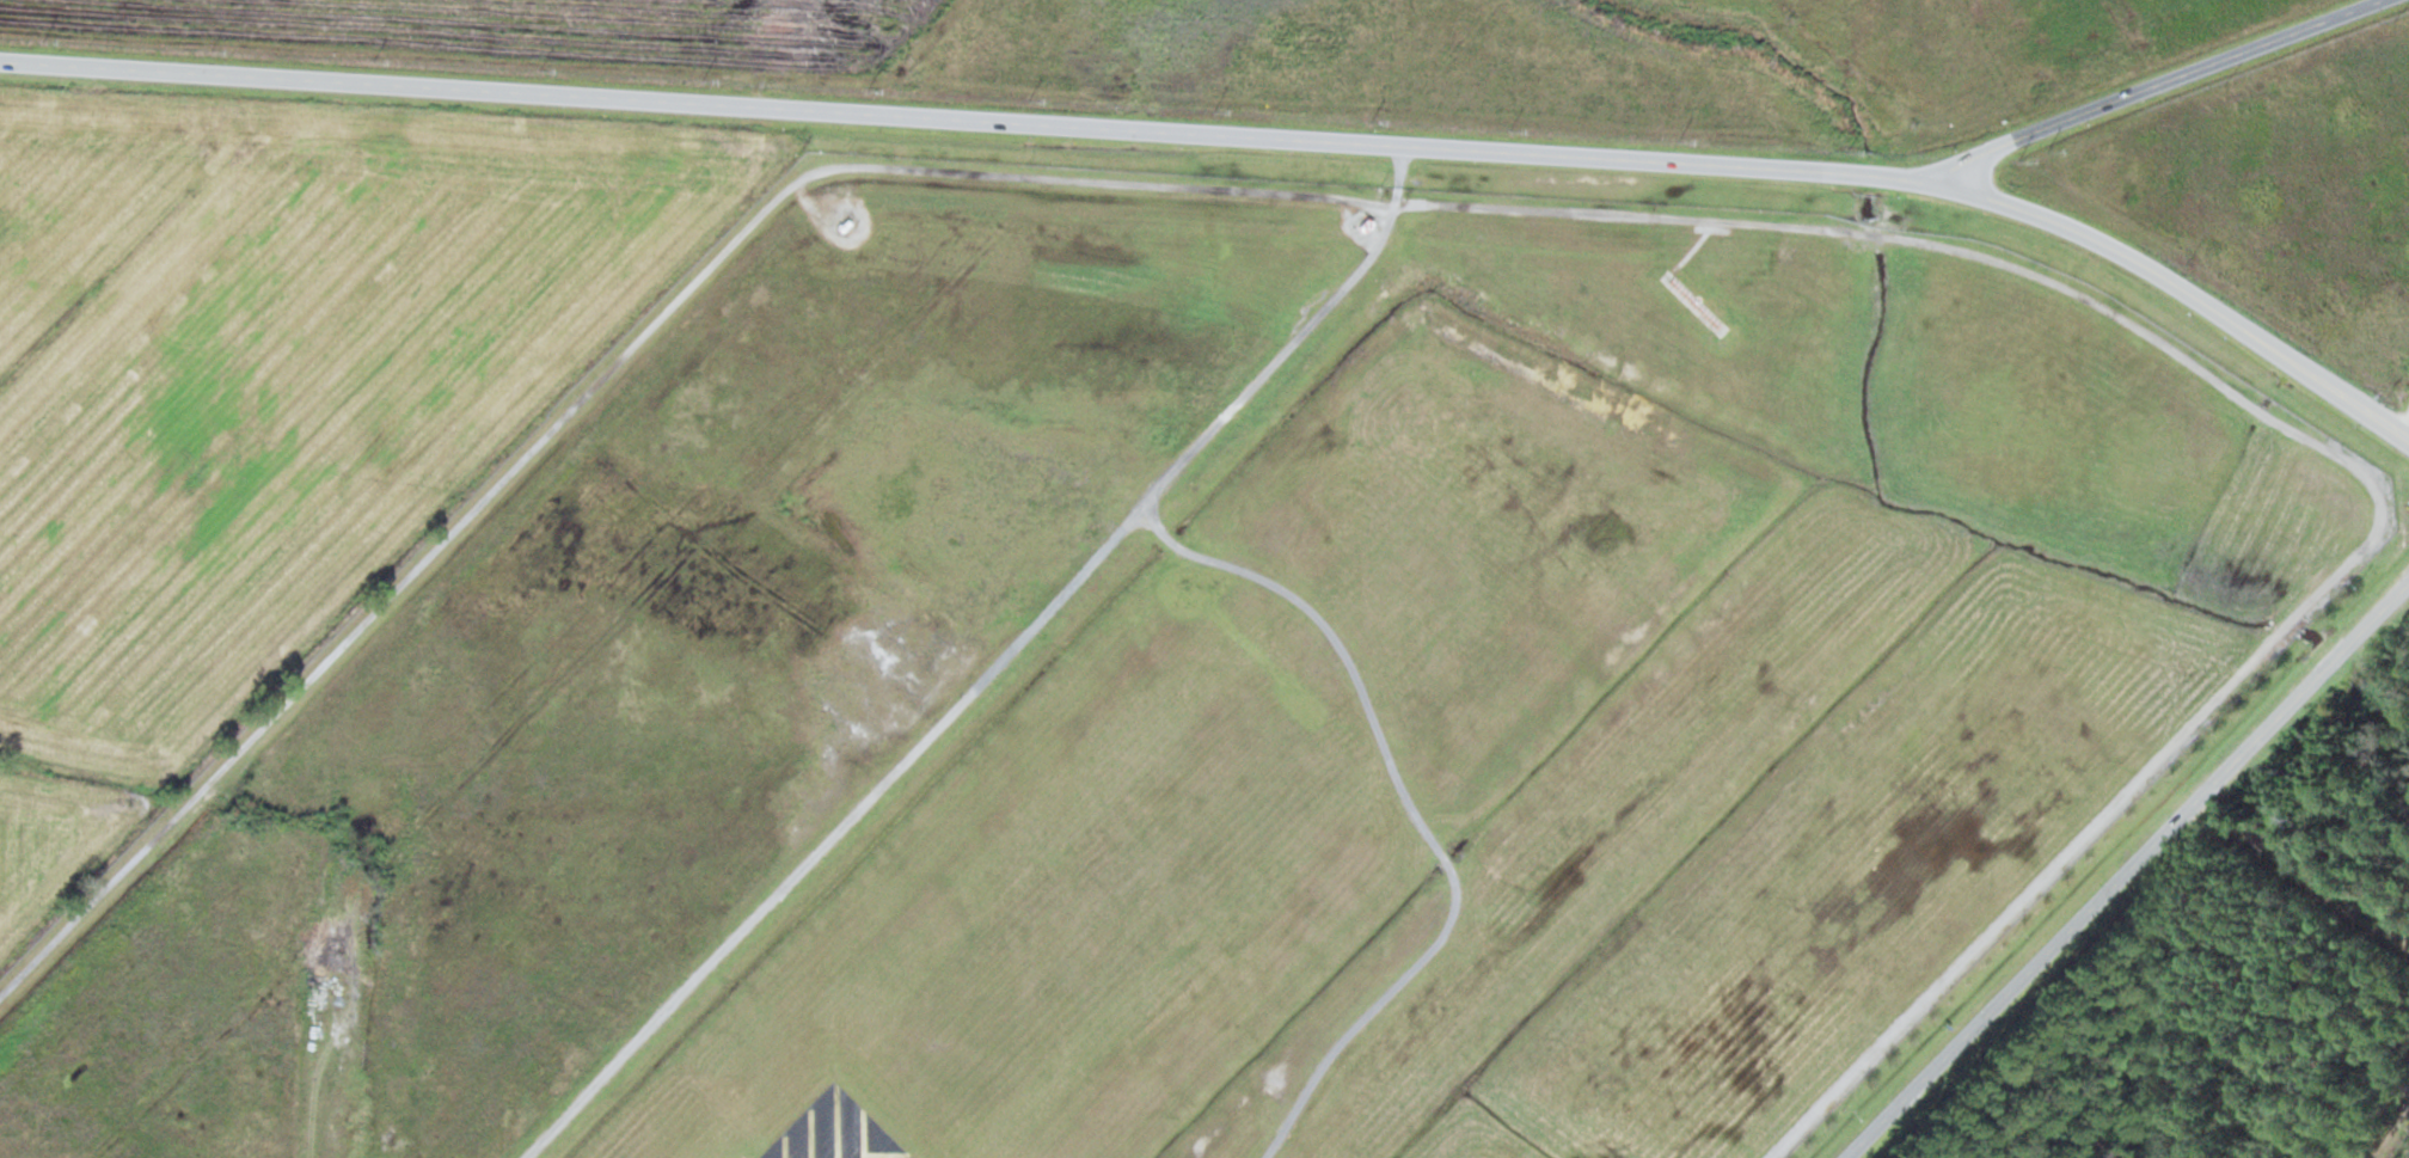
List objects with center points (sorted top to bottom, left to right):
road: (2152, 84)
road: (969, 116)
road: (1374, 250)
road: (2182, 290)
road: (607, 373)
crop: (272, 397)
road: (2323, 446)
airport: (1233, 699)
road: (914, 748)
road: (1412, 808)
road: (2306, 864)
road: (2127, 870)
road: (318, 1074)

